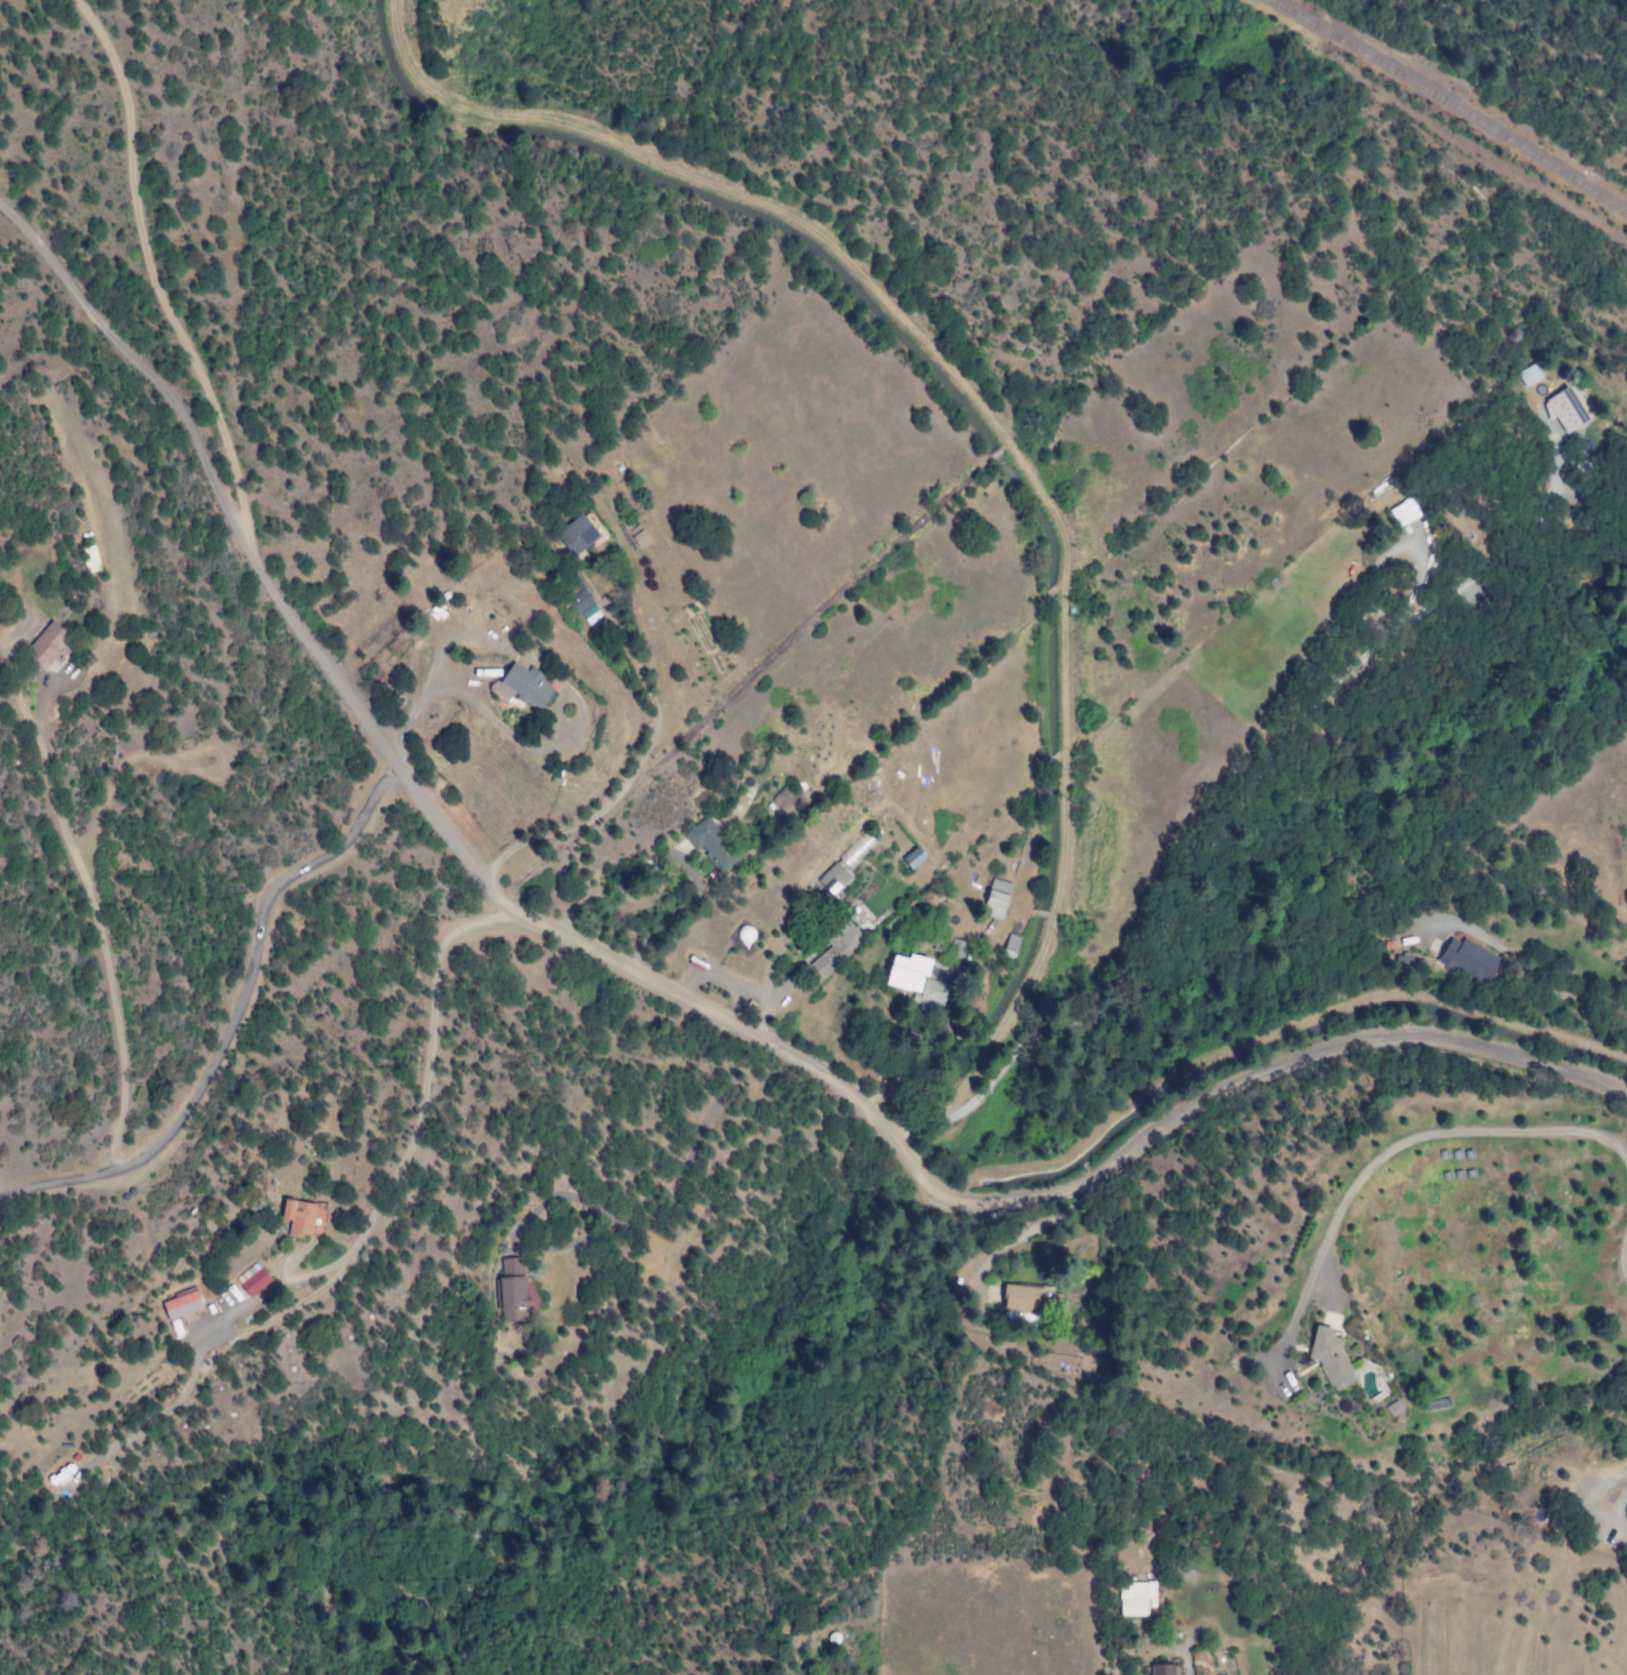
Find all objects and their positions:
railway: (1448, 103)
road: (168, 280)
building: (1528, 375)
building: (1563, 410)
road: (997, 436)
building: (1403, 513)
building: (575, 536)
building: (637, 536)
building: (584, 607)
building: (48, 646)
building: (525, 685)
building: (785, 800)
building: (710, 845)
building: (856, 849)
building: (912, 858)
building: (832, 879)
building: (994, 899)
building: (1009, 946)
building: (836, 948)
building: (1401, 961)
building: (1467, 961)
road: (1521, 979)
building: (915, 981)
road: (683, 994)
road: (228, 1014)
building: (298, 1217)
building: (252, 1279)
building: (512, 1289)
building: (1030, 1300)
building: (182, 1303)
building: (1328, 1355)
building: (1134, 1599)
building: (1159, 1670)

